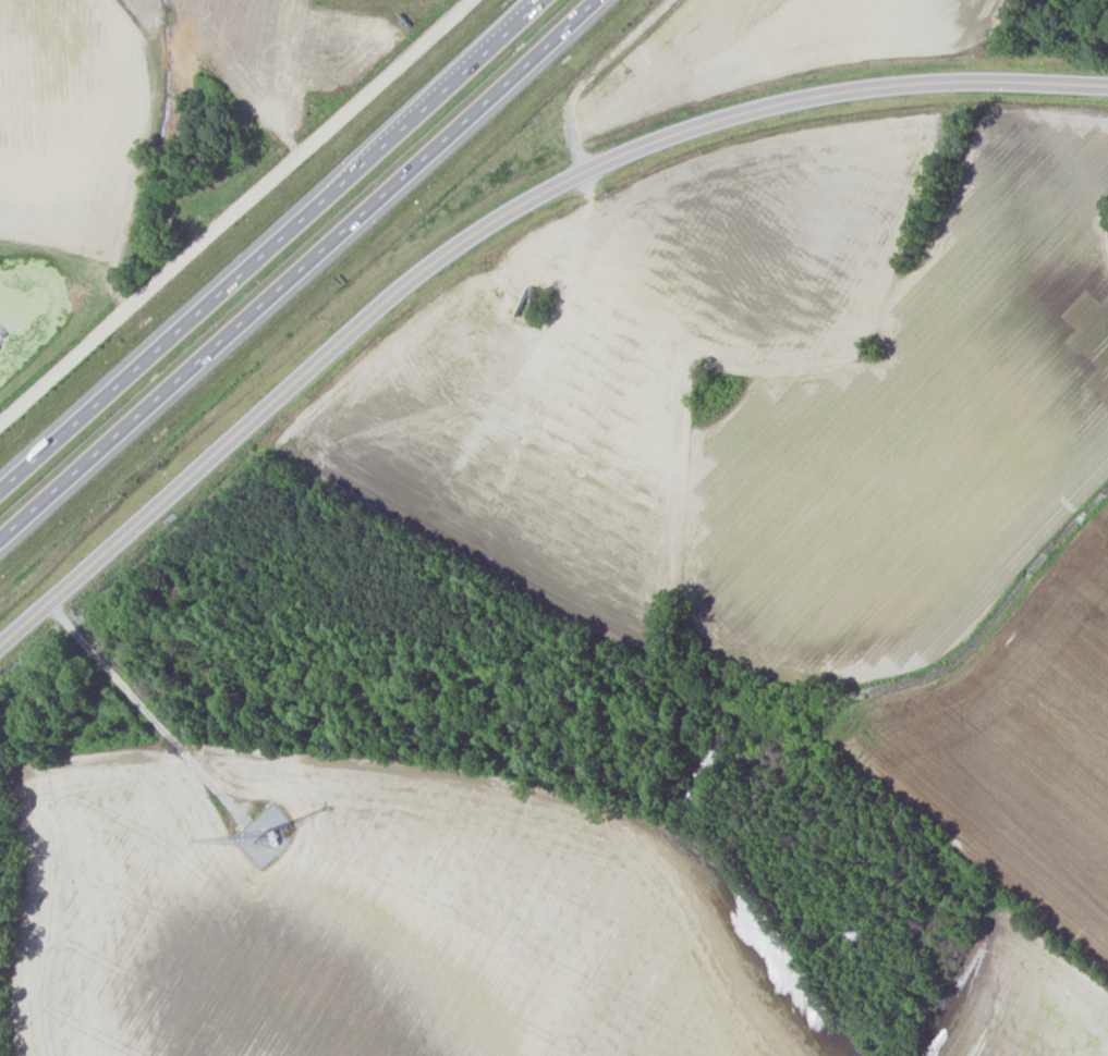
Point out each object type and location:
road: (588, 143)
road: (311, 152)
road: (490, 229)
road: (273, 251)
road: (301, 273)
road: (71, 367)

